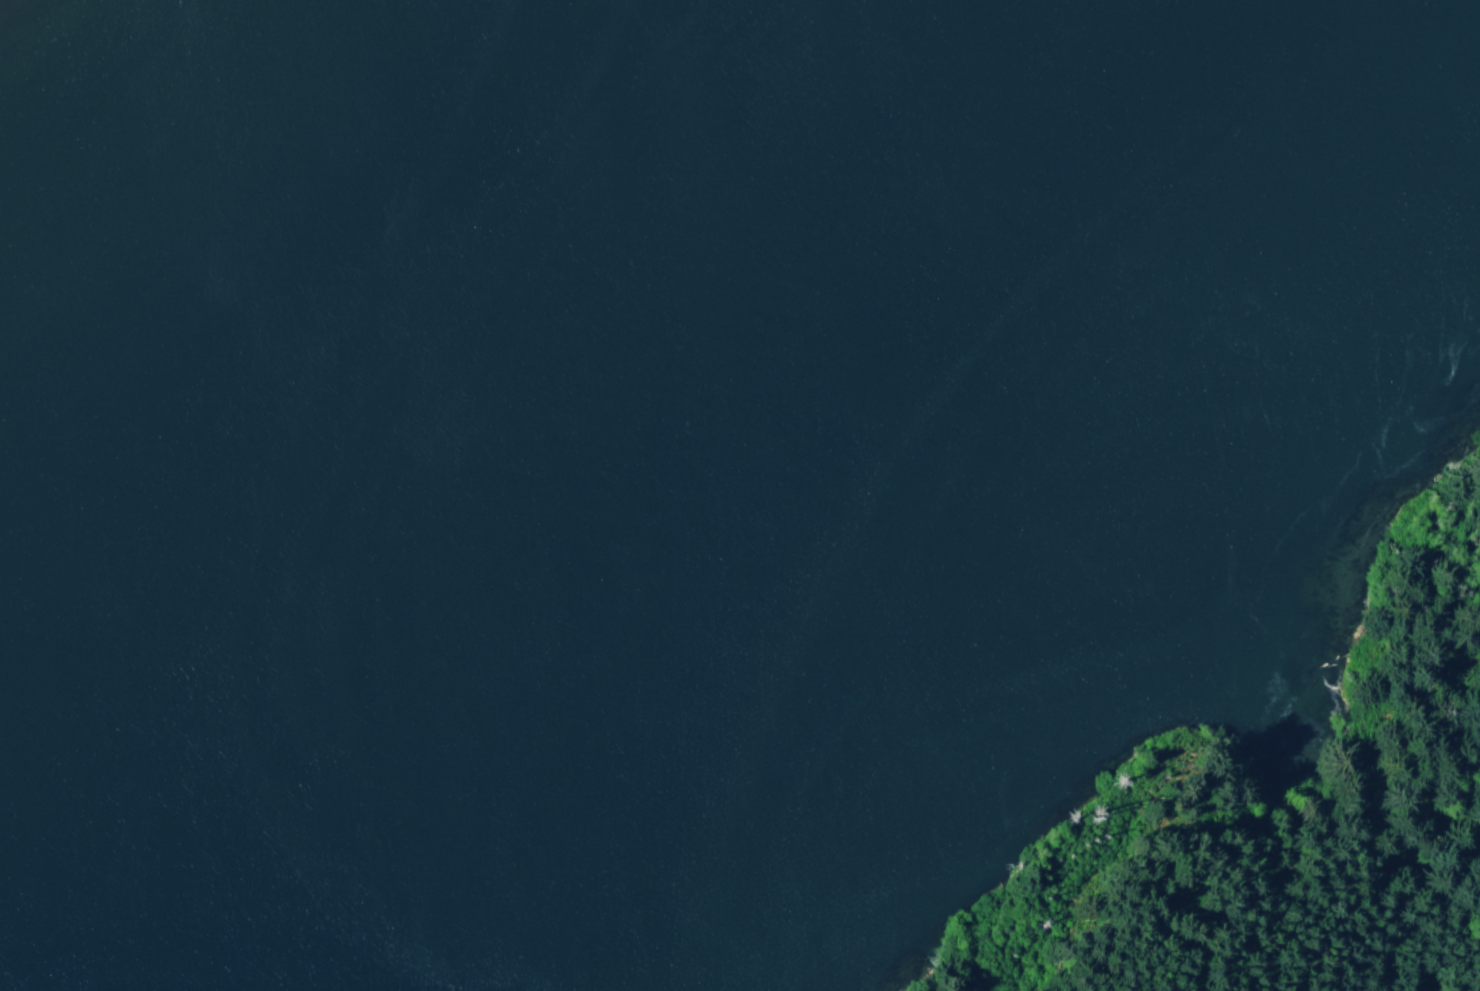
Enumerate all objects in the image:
river: (473, 404)

